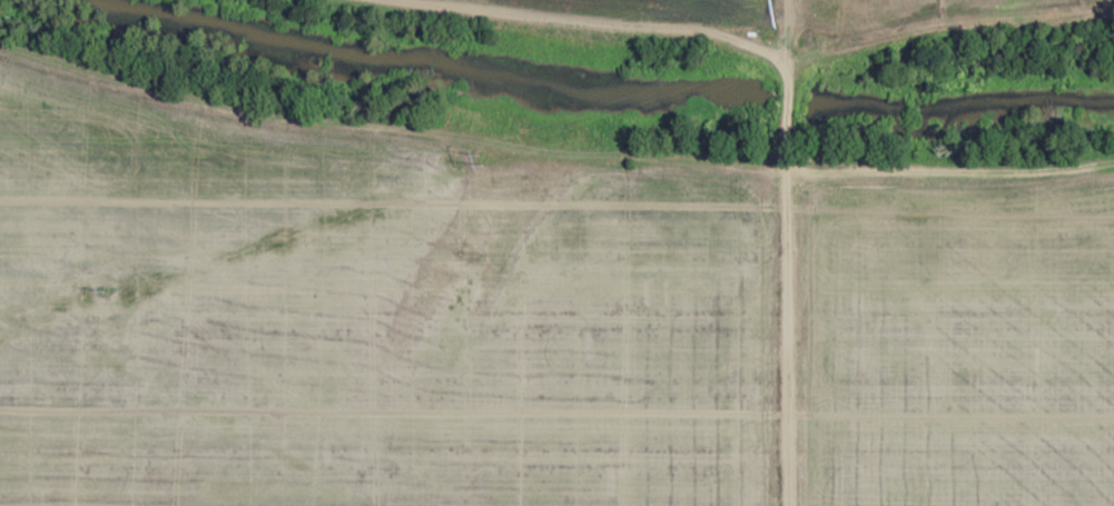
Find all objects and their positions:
road: (556, 152)
power tower: (489, 157)
power tower: (108, 288)
road: (786, 338)

